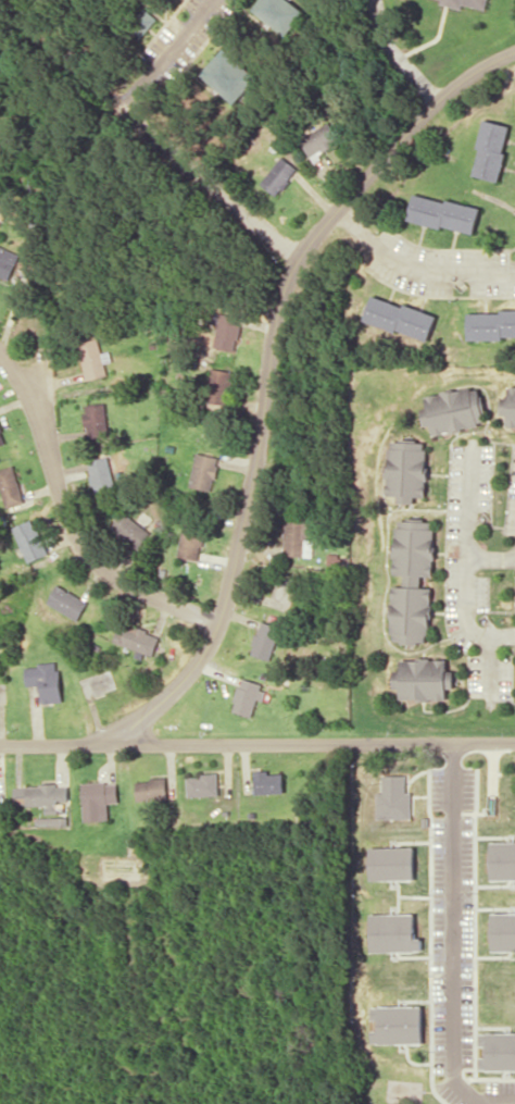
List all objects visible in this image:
building: (465, 3)
building: (278, 13)
road: (167, 52)
building: (228, 75)
building: (321, 138)
building: (491, 149)
building: (279, 175)
road: (211, 184)
building: (444, 213)
building: (8, 261)
building: (401, 317)
building: (491, 323)
building: (227, 331)
building: (93, 358)
road: (269, 371)
building: (218, 385)
building: (508, 406)
building: (453, 409)
building: (96, 420)
building: (2, 435)
building: (204, 470)
building: (406, 470)
building: (101, 474)
building: (10, 485)
road: (72, 519)
building: (130, 529)
building: (299, 537)
building: (29, 539)
building: (191, 541)
road: (491, 558)
road: (467, 563)
building: (412, 581)
building: (66, 601)
building: (137, 640)
building: (266, 640)
building: (423, 678)
building: (46, 680)
building: (248, 695)
road: (257, 743)
building: (269, 781)
building: (203, 784)
building: (152, 789)
building: (43, 795)
building: (394, 797)
building: (99, 798)
building: (51, 820)
building: (503, 859)
building: (392, 863)
building: (503, 931)
building: (393, 932)
building: (399, 1024)
building: (498, 1051)

